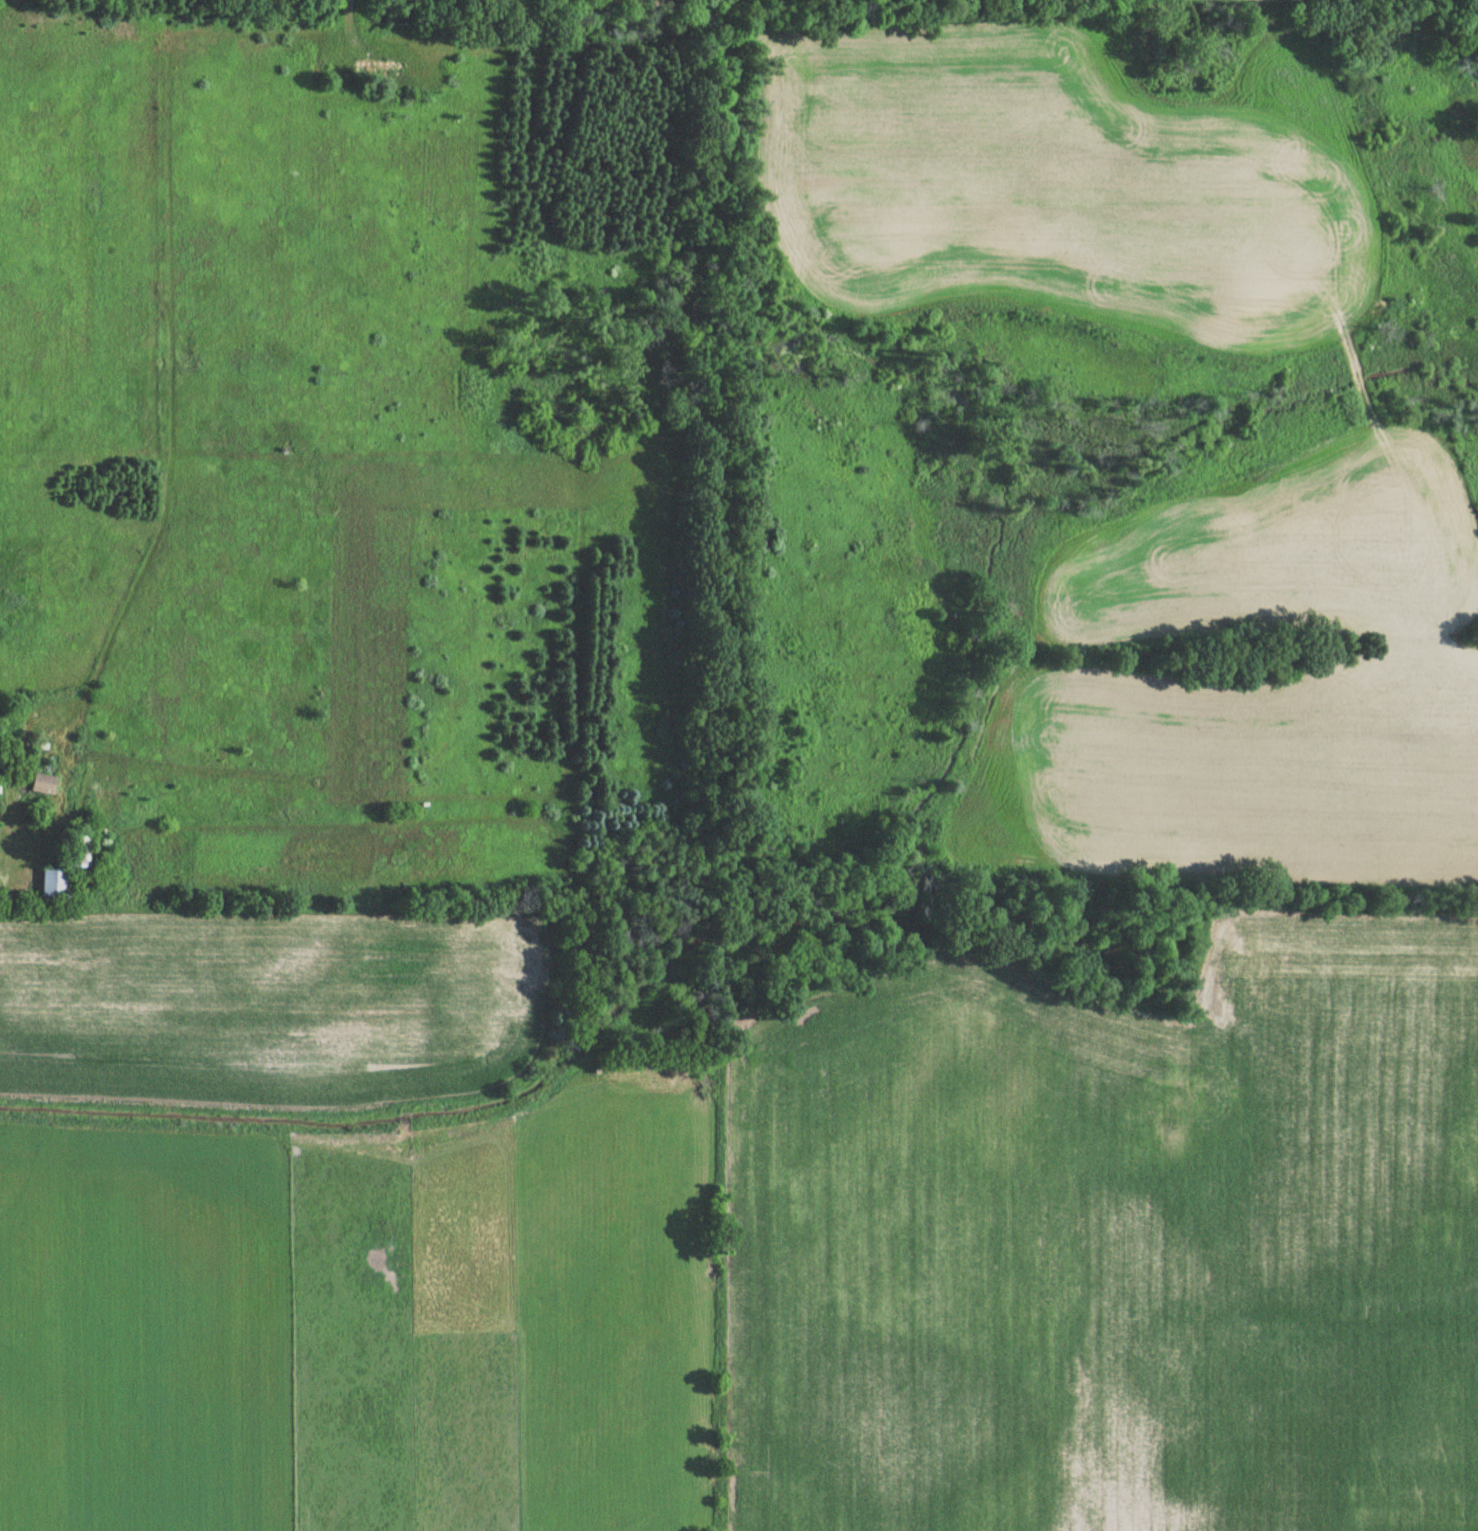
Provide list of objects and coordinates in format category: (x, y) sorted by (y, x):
building: (378, 68)
crop: (1255, 683)
building: (42, 784)
building: (76, 853)
building: (57, 887)
crop: (269, 1005)
crop: (568, 1313)

